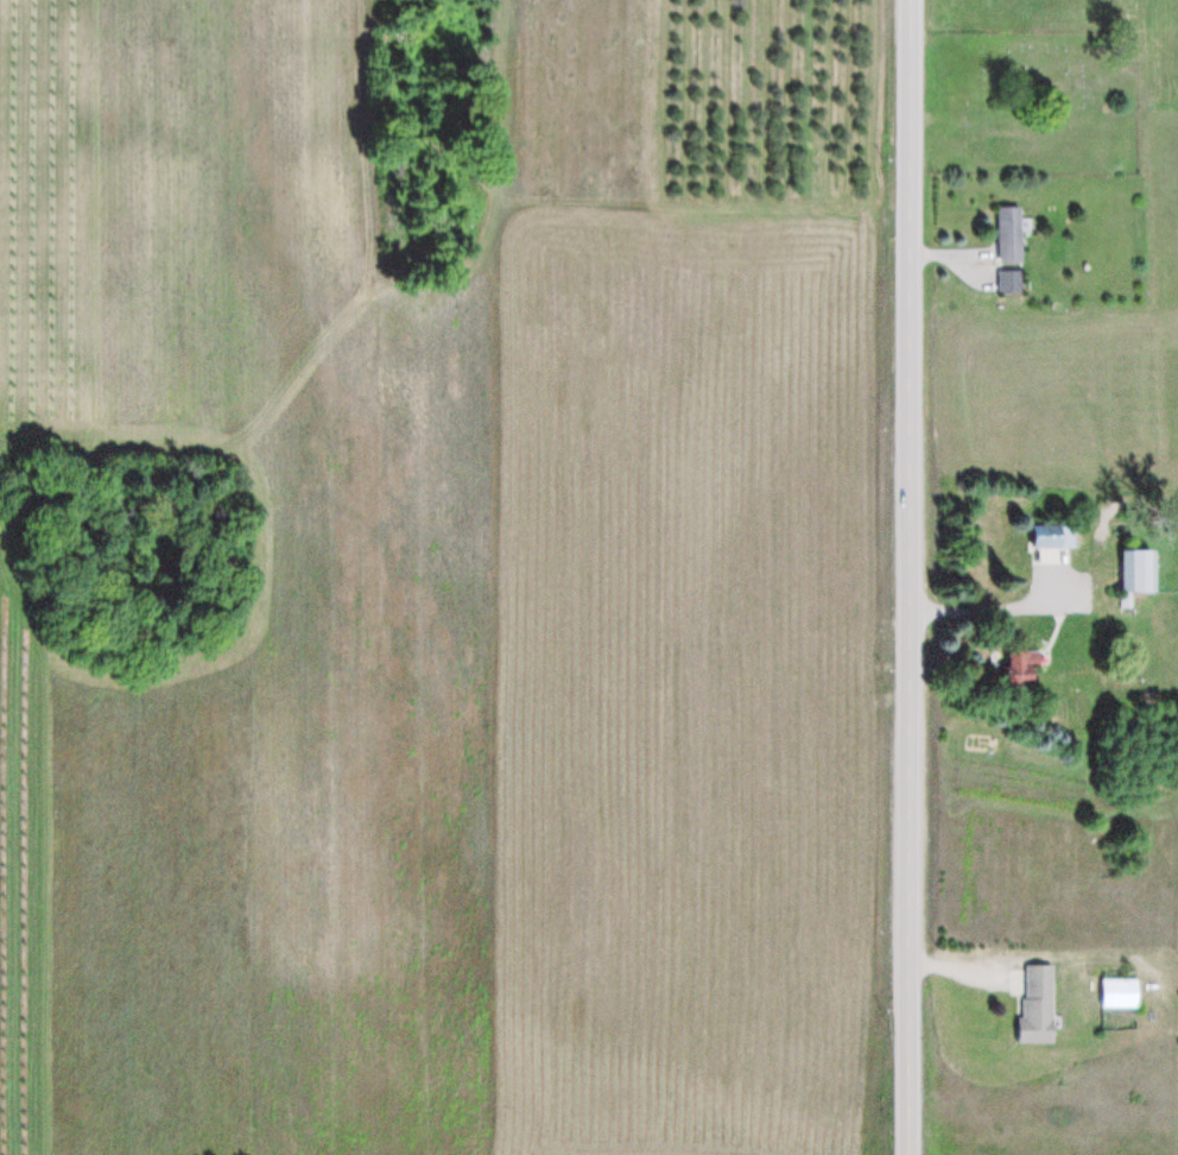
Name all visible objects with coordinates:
park: (1031, 103)
building: (1009, 234)
building: (1009, 282)
building: (1052, 536)
building: (1136, 570)
road: (907, 577)
building: (1019, 667)
building: (1121, 992)
building: (1038, 1003)

